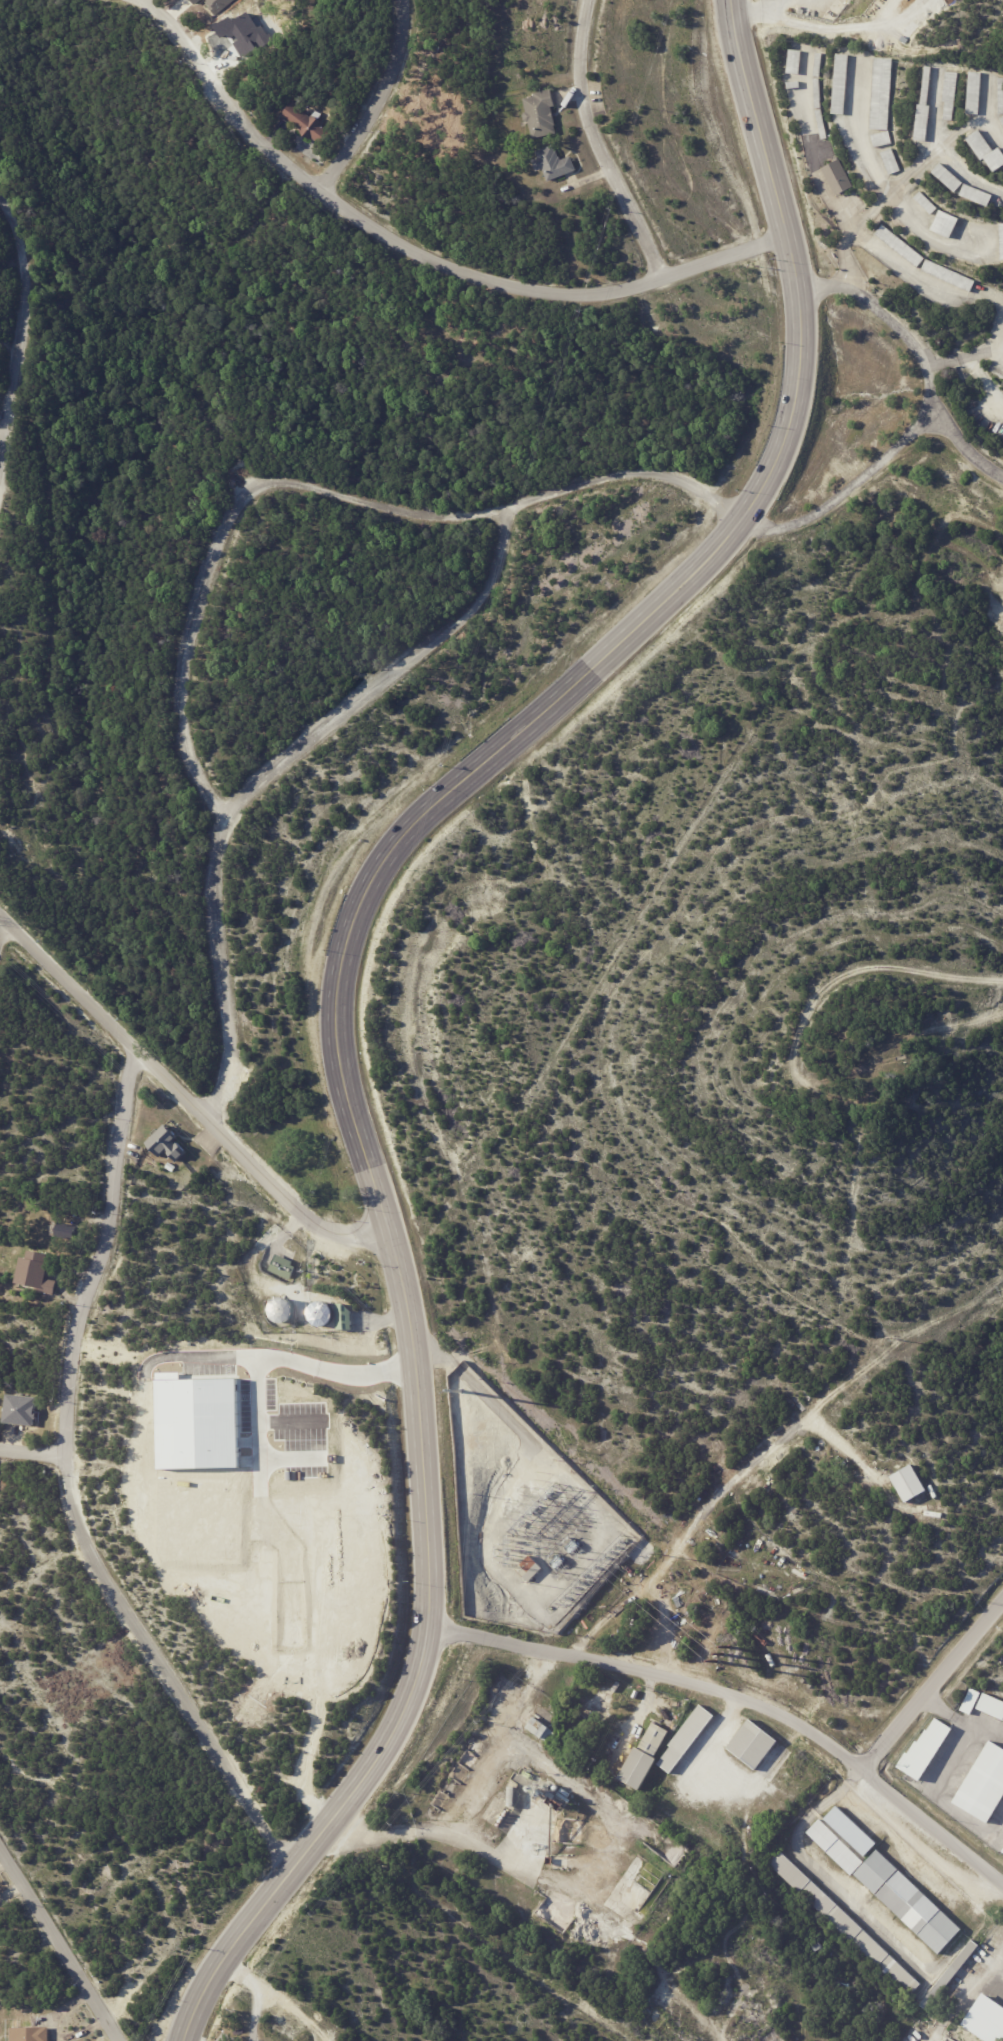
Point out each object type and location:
building: (193, 1)
building: (216, 4)
road: (751, 8)
road: (843, 25)
building: (795, 63)
building: (819, 65)
building: (842, 85)
building: (794, 86)
building: (818, 94)
building: (975, 94)
building: (883, 95)
building: (950, 95)
building: (1001, 97)
road: (988, 98)
road: (380, 99)
building: (925, 111)
building: (541, 112)
building: (1002, 120)
building: (305, 121)
building: (822, 124)
building: (882, 140)
road: (603, 142)
road: (940, 147)
building: (987, 152)
building: (892, 162)
building: (553, 163)
building: (839, 178)
building: (949, 179)
road: (881, 182)
road: (902, 183)
building: (977, 197)
building: (926, 203)
building: (945, 225)
road: (850, 227)
building: (1001, 240)
building: (900, 246)
road: (415, 254)
building: (949, 276)
road: (20, 339)
road: (921, 357)
road: (965, 357)
road: (985, 383)
road: (322, 477)
road: (850, 488)
road: (276, 750)
road: (2, 929)
road: (338, 968)
road: (847, 976)
building: (898, 1059)
road: (187, 1093)
building: (165, 1143)
building: (62, 1231)
building: (282, 1267)
building: (35, 1273)
power tower: (1002, 1289)
building: (343, 1317)
power tower: (892, 1338)
road: (297, 1356)
power tower: (463, 1405)
building: (19, 1410)
road: (259, 1417)
road: (31, 1453)
building: (827, 1455)
road: (70, 1483)
building: (909, 1484)
building: (690, 1500)
building: (796, 1512)
power substation: (527, 1516)
power tower: (657, 1553)
building: (529, 1569)
power tower: (722, 1654)
road: (935, 1686)
building: (610, 1692)
road: (741, 1698)
building: (971, 1702)
building: (991, 1706)
building: (597, 1709)
road: (963, 1719)
building: (541, 1731)
building: (686, 1739)
building: (753, 1745)
building: (926, 1751)
building: (644, 1758)
building: (984, 1786)
building: (511, 1797)
road: (472, 1802)
building: (851, 1832)
building: (835, 1848)
building: (1002, 1852)
building: (909, 1903)
building: (845, 1924)
road: (61, 1945)
building: (951, 1976)
building: (29, 2033)

